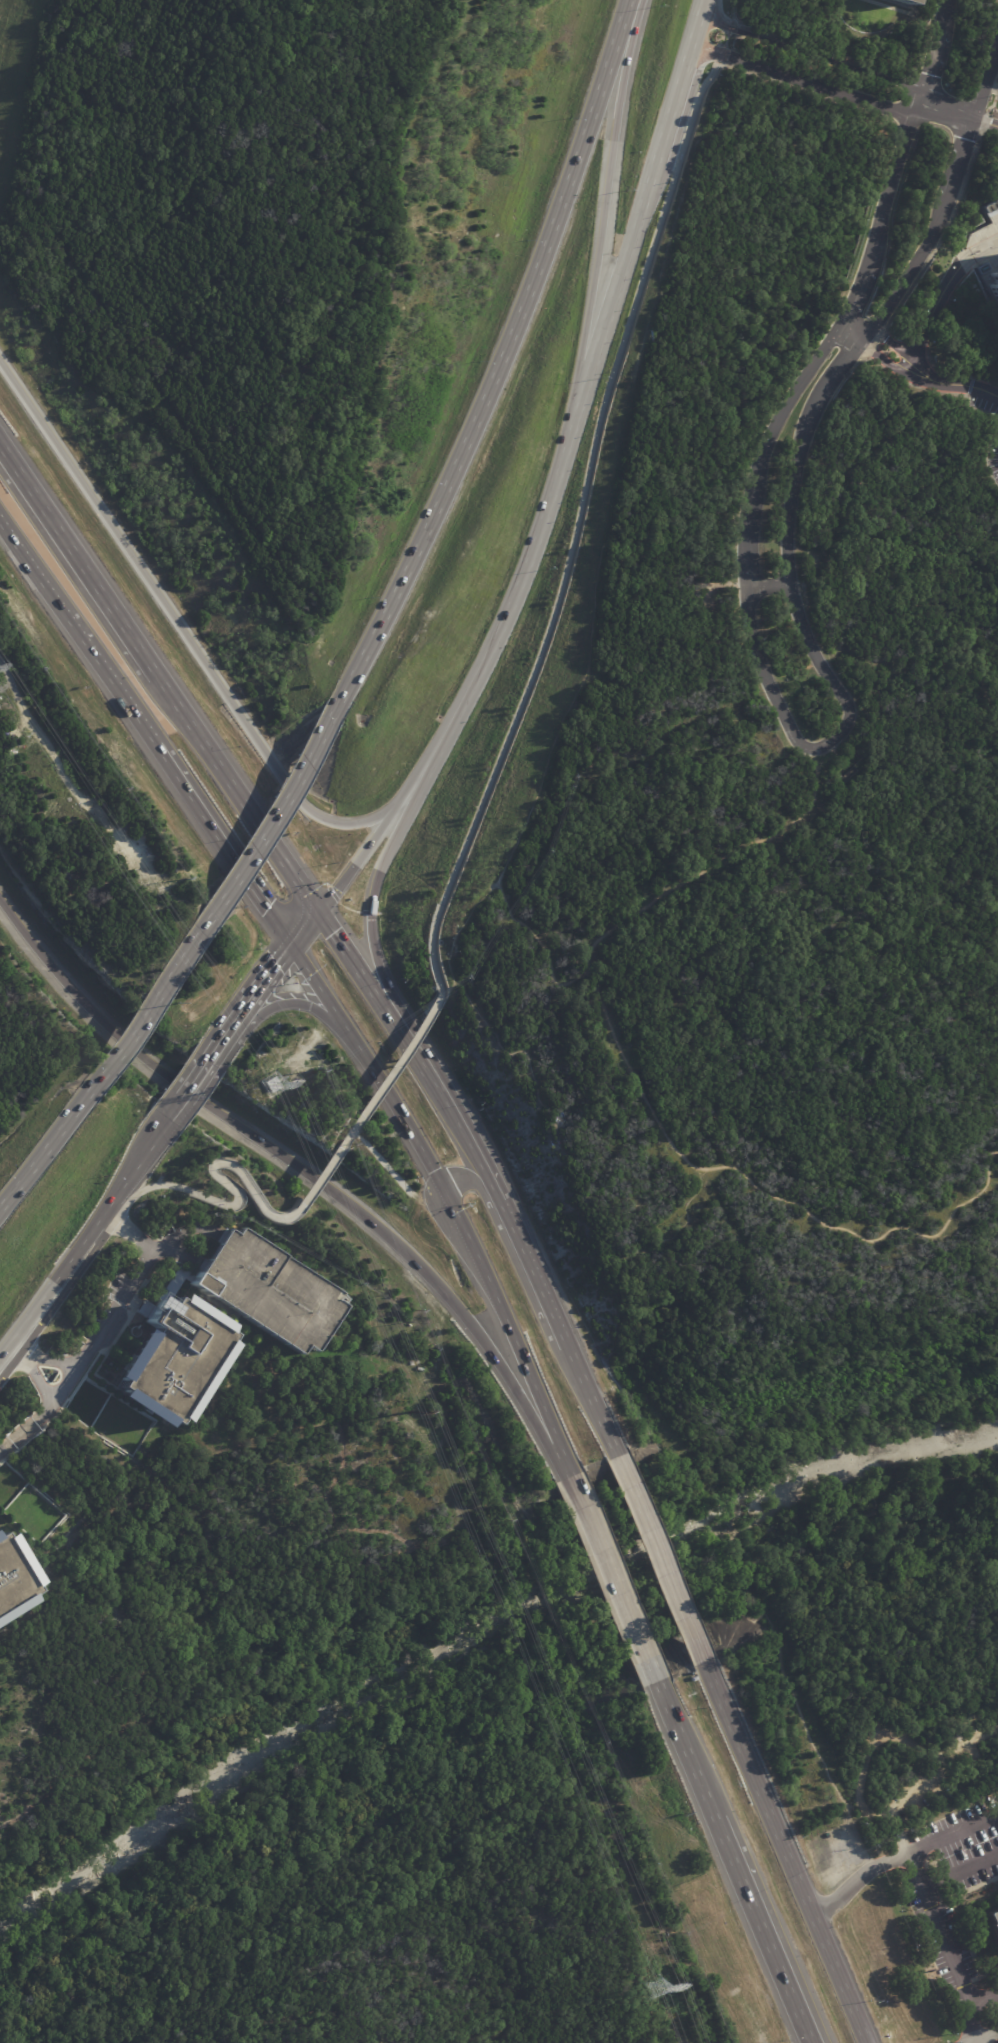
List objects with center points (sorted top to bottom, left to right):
building: (901, 2)
road: (726, 12)
road: (696, 23)
road: (937, 45)
road: (813, 51)
park: (994, 57)
road: (992, 76)
road: (804, 81)
road: (949, 104)
road: (673, 106)
road: (984, 123)
road: (603, 215)
building: (987, 256)
road: (617, 298)
road: (931, 314)
road: (857, 327)
road: (503, 361)
road: (927, 375)
road: (820, 392)
road: (790, 404)
road: (582, 512)
road: (81, 555)
road: (772, 581)
road: (503, 623)
road: (180, 628)
road: (145, 732)
road: (242, 790)
road: (272, 819)
road: (363, 855)
road: (720, 867)
traffic signals: (322, 907)
road: (373, 911)
road: (306, 925)
traffic signals: (290, 944)
park: (790, 945)
road: (359, 963)
road: (176, 970)
road: (564, 974)
road: (265, 981)
road: (293, 1003)
road: (126, 1040)
road: (223, 1040)
power tower: (265, 1082)
road: (186, 1090)
road: (368, 1102)
road: (457, 1119)
road: (157, 1133)
road: (52, 1136)
road: (281, 1160)
road: (138, 1162)
road: (381, 1164)
road: (437, 1181)
road: (159, 1185)
road: (479, 1186)
traffic signals: (445, 1196)
road: (64, 1266)
road: (542, 1283)
building: (267, 1290)
parking garage: (267, 1290)
road: (100, 1329)
building: (175, 1357)
road: (34, 1367)
road: (591, 1402)
power tower: (410, 1412)
road: (560, 1456)
road: (658, 1559)
building: (12, 1576)
road: (611, 1579)
road: (973, 1695)
road: (500, 1722)
parking lot: (878, 1735)
road: (880, 1736)
road: (966, 1748)
road: (684, 1749)
parking lot: (937, 1777)
road: (953, 1834)
road: (902, 1843)
road: (785, 1852)
road: (501, 1864)
road: (960, 1871)
road: (858, 1880)
building: (990, 1925)
road: (761, 1929)
road: (947, 1946)
power tower: (655, 1990)
road: (985, 1997)
road: (749, 2014)
road: (984, 2036)
road: (974, 2042)

